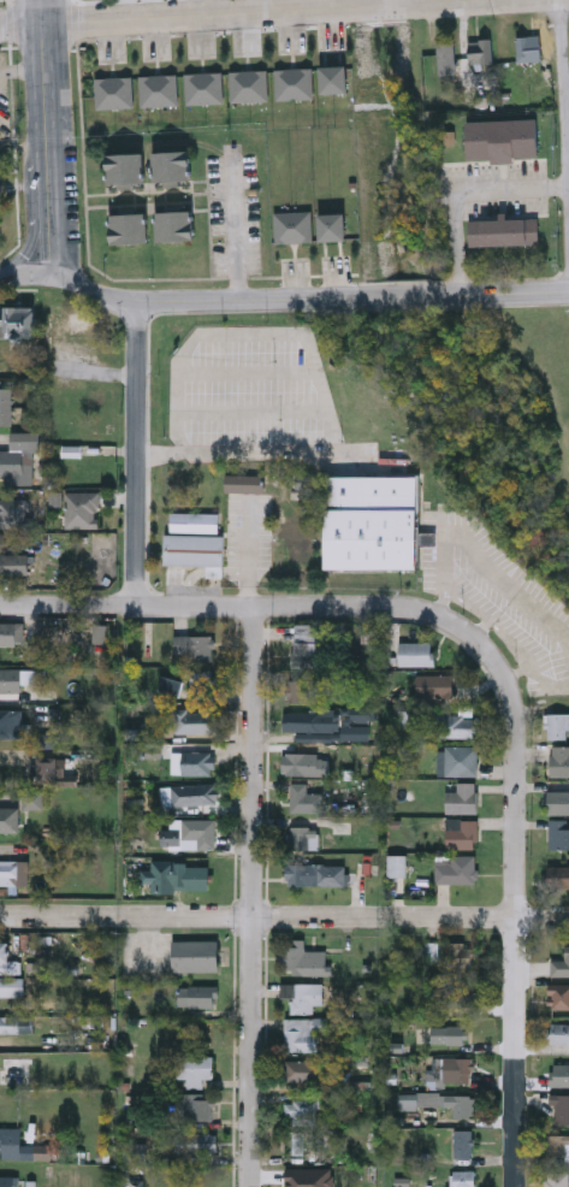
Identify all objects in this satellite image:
parking lot: (0, 1)
road: (393, 1)
road: (248, 13)
road: (20, 26)
building: (480, 49)
building: (529, 49)
building: (334, 77)
building: (294, 81)
building: (248, 83)
building: (203, 85)
building: (158, 88)
building: (113, 89)
road: (563, 119)
building: (500, 136)
road: (45, 137)
building: (172, 164)
building: (125, 166)
road: (463, 194)
building: (176, 223)
building: (292, 224)
building: (332, 224)
building: (129, 225)
building: (504, 229)
road: (236, 230)
road: (31, 234)
road: (29, 274)
road: (4, 276)
road: (307, 299)
building: (61, 320)
building: (17, 323)
road: (248, 333)
road: (248, 373)
building: (6, 404)
road: (255, 412)
road: (271, 451)
building: (19, 455)
road: (136, 455)
building: (82, 507)
building: (13, 510)
building: (374, 518)
building: (195, 548)
building: (14, 559)
road: (486, 567)
road: (444, 602)
road: (226, 607)
road: (493, 622)
road: (485, 630)
building: (11, 632)
building: (304, 643)
building: (194, 645)
building: (416, 652)
road: (537, 674)
building: (11, 678)
building: (201, 680)
building: (434, 684)
building: (296, 690)
building: (310, 719)
building: (194, 720)
building: (11, 722)
building: (455, 725)
building: (558, 725)
building: (461, 758)
building: (559, 760)
building: (197, 762)
building: (309, 762)
building: (51, 767)
building: (194, 792)
building: (304, 797)
building: (462, 797)
building: (557, 801)
building: (8, 819)
building: (200, 832)
building: (461, 833)
building: (559, 833)
building: (170, 835)
building: (301, 835)
building: (396, 864)
building: (456, 868)
building: (8, 870)
building: (315, 873)
building: (556, 874)
building: (190, 876)
road: (520, 890)
road: (257, 897)
road: (284, 919)
building: (195, 953)
building: (463, 953)
building: (304, 958)
building: (7, 959)
building: (561, 962)
building: (14, 985)
building: (460, 993)
building: (197, 994)
building: (302, 994)
building: (558, 994)
building: (8, 1022)
building: (301, 1032)
building: (448, 1032)
building: (558, 1032)
building: (16, 1068)
building: (194, 1068)
building: (303, 1069)
building: (458, 1069)
building: (558, 1073)
building: (460, 1104)
building: (195, 1106)
building: (561, 1108)
building: (300, 1110)
building: (11, 1141)
building: (196, 1141)
building: (462, 1142)
building: (555, 1144)
building: (461, 1177)
building: (556, 1179)
building: (8, 1181)

